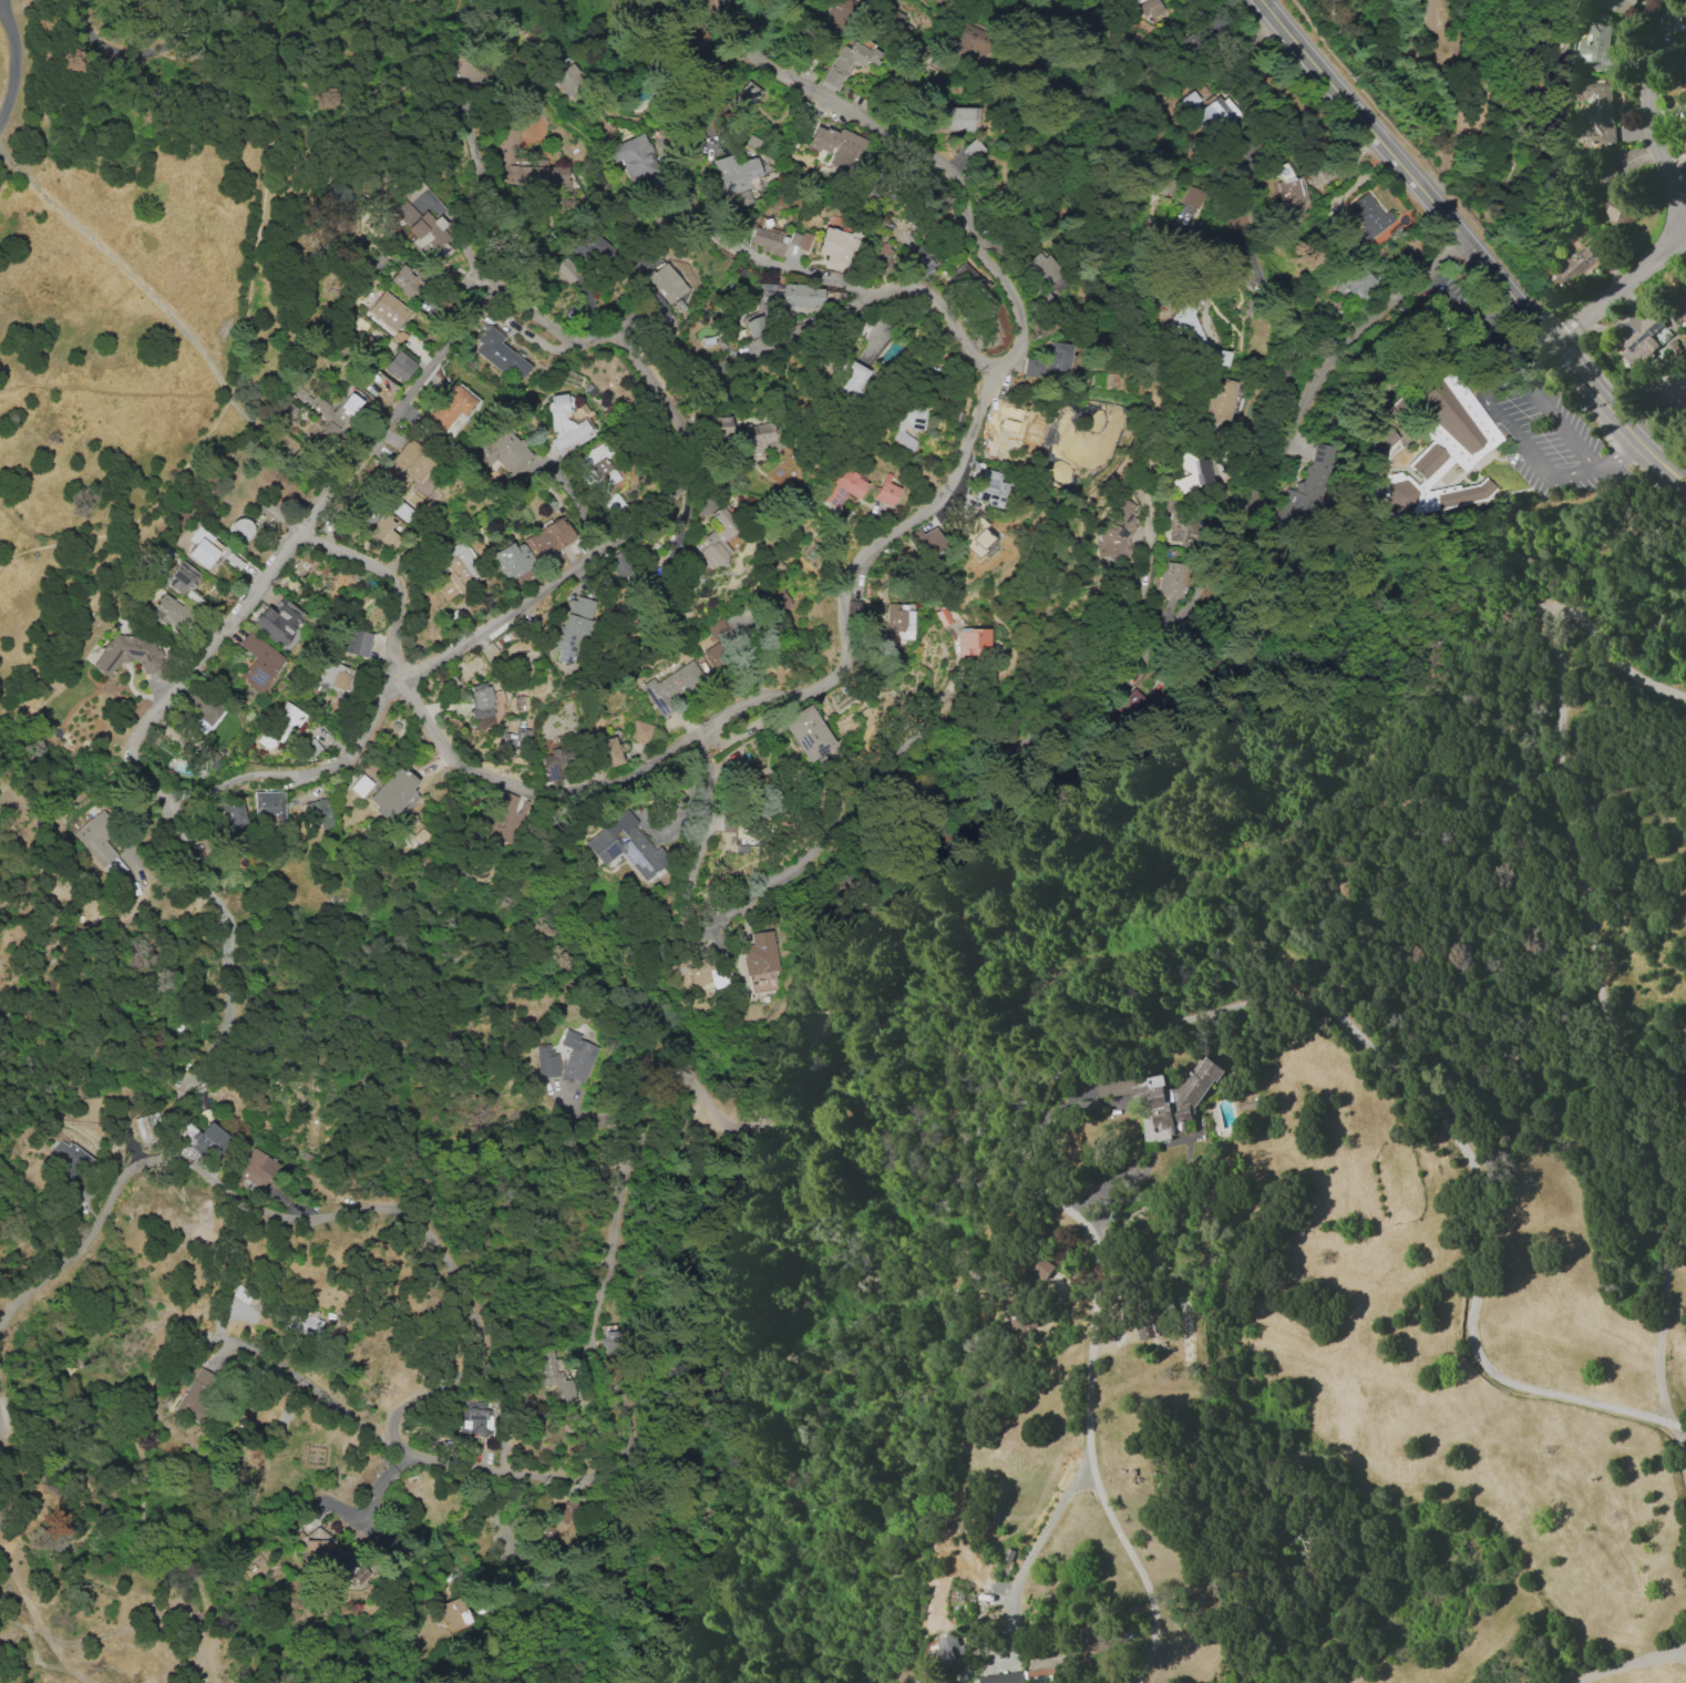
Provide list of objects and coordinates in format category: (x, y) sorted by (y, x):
building: (1612, 4)
building: (1140, 8)
building: (832, 19)
building: (967, 40)
building: (1594, 49)
road: (137, 55)
road: (13, 61)
building: (849, 61)
building: (567, 80)
building: (744, 96)
building: (1595, 110)
building: (1209, 113)
building: (957, 117)
building: (836, 143)
road: (937, 152)
building: (634, 155)
building: (526, 167)
building: (733, 173)
building: (1318, 174)
road: (686, 181)
building: (1164, 185)
building: (1614, 191)
building: (1286, 193)
building: (1193, 196)
road: (1675, 199)
building: (407, 212)
building: (1368, 217)
road: (1685, 229)
building: (426, 232)
building: (799, 239)
building: (767, 240)
building: (835, 245)
road: (1468, 246)
building: (593, 248)
building: (880, 250)
road: (115, 264)
building: (923, 265)
building: (1574, 266)
building: (566, 270)
building: (1046, 274)
building: (405, 281)
building: (1353, 281)
building: (667, 284)
road: (500, 291)
building: (799, 296)
building: (1679, 306)
road: (1286, 307)
building: (389, 310)
road: (247, 311)
road: (1460, 311)
building: (754, 327)
building: (1637, 335)
road: (538, 345)
road: (1487, 349)
building: (498, 352)
building: (1055, 359)
building: (398, 366)
building: (1030, 367)
building: (850, 378)
road: (1484, 388)
building: (1220, 402)
building: (450, 407)
building: (282, 410)
building: (329, 411)
building: (906, 420)
building: (565, 423)
building: (989, 424)
building: (721, 427)
building: (757, 437)
building: (1080, 447)
building: (504, 450)
building: (1441, 451)
road: (1614, 456)
building: (411, 460)
building: (1190, 470)
building: (598, 475)
building: (844, 485)
building: (989, 488)
building: (1306, 488)
building: (886, 490)
road: (577, 503)
building: (400, 510)
building: (1180, 527)
building: (239, 528)
building: (1118, 532)
building: (548, 538)
building: (717, 541)
building: (926, 541)
building: (199, 547)
building: (513, 560)
building: (453, 571)
building: (182, 577)
building: (1170, 579)
building: (774, 599)
building: (166, 610)
building: (278, 620)
building: (897, 623)
building: (574, 626)
road: (475, 633)
building: (354, 642)
building: (971, 642)
building: (718, 643)
building: (131, 653)
building: (258, 661)
building: (331, 676)
building: (670, 686)
building: (480, 699)
building: (203, 707)
building: (280, 725)
building: (640, 731)
building: (806, 732)
building: (513, 738)
road: (675, 747)
building: (609, 751)
building: (554, 763)
building: (360, 786)
building: (392, 794)
building: (269, 805)
building: (317, 813)
building: (235, 814)
building: (503, 818)
building: (100, 843)
building: (626, 845)
road: (767, 881)
building: (762, 951)
road: (840, 953)
building: (701, 973)
road: (1171, 1035)
building: (576, 1056)
building: (546, 1060)
building: (1153, 1096)
building: (148, 1128)
building: (207, 1138)
building: (68, 1157)
building: (255, 1168)
road: (298, 1217)
building: (1041, 1268)
building: (1148, 1322)
building: (304, 1323)
road: (171, 1368)
crop: (1463, 1371)
building: (554, 1378)
building: (195, 1392)
building: (474, 1419)
road: (1677, 1447)
building: (563, 1525)
road: (1029, 1556)
building: (333, 1560)
road: (27, 1589)
building: (455, 1613)
building: (1096, 1636)
building: (947, 1652)
road: (1628, 1664)
building: (1015, 1676)

